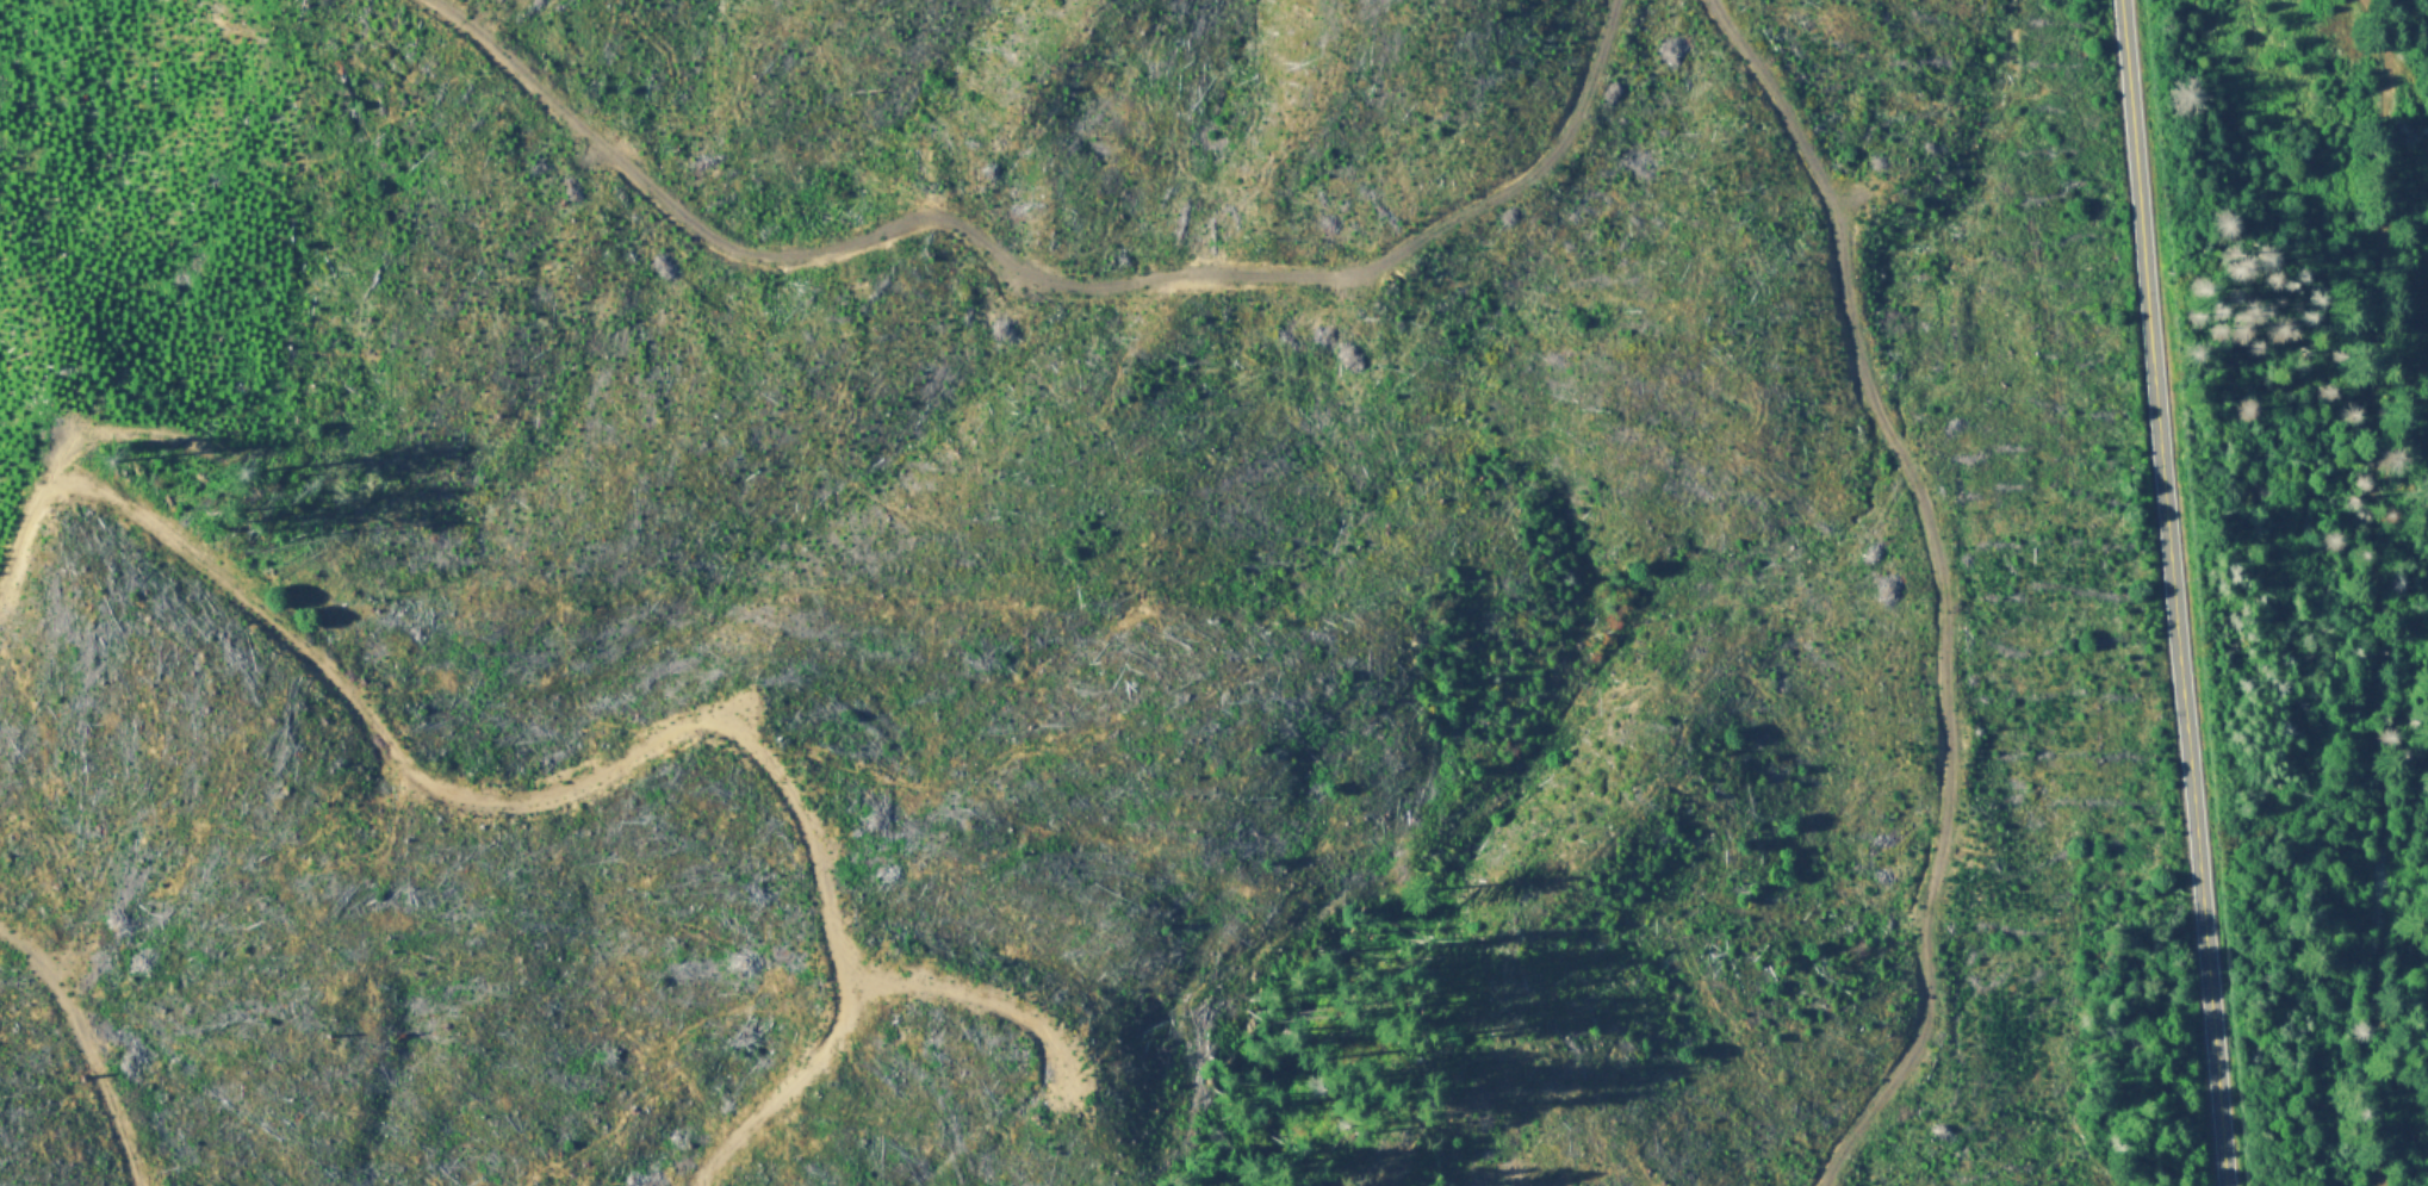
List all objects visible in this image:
road: (112, 422)
road: (2176, 592)

